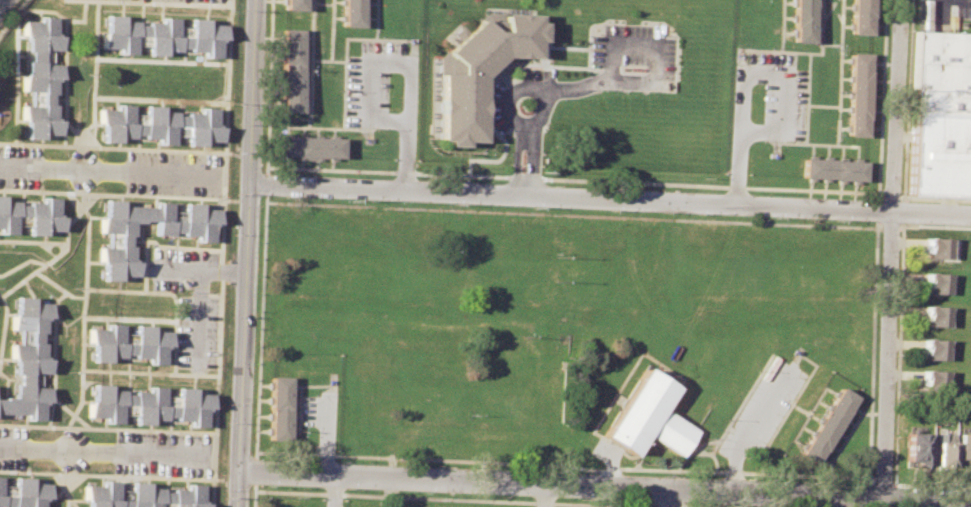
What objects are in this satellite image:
parking lot: (193, 1)
road: (323, 2)
building: (294, 3)
road: (84, 8)
road: (826, 9)
road: (834, 10)
building: (353, 11)
road: (11, 15)
building: (860, 15)
parking lot: (944, 15)
building: (801, 19)
road: (332, 30)
building: (160, 35)
road: (311, 39)
road: (654, 43)
road: (829, 43)
road: (799, 51)
road: (15, 52)
parking lot: (634, 56)
road: (162, 60)
road: (338, 60)
road: (405, 61)
road: (344, 65)
building: (290, 69)
building: (478, 70)
road: (737, 70)
building: (38, 75)
road: (93, 79)
parking lot: (370, 81)
road: (573, 86)
building: (857, 93)
parking lot: (767, 95)
road: (805, 97)
road: (160, 100)
road: (908, 100)
road: (821, 104)
road: (308, 109)
road: (836, 110)
building: (941, 114)
road: (540, 115)
building: (157, 123)
road: (89, 138)
building: (309, 145)
road: (111, 147)
road: (529, 158)
road: (515, 159)
parking lot: (18, 166)
road: (281, 167)
building: (834, 168)
road: (108, 172)
parking lot: (173, 173)
road: (641, 182)
road: (262, 184)
road: (143, 195)
road: (880, 195)
road: (570, 196)
road: (890, 197)
road: (243, 199)
road: (935, 199)
road: (904, 211)
road: (931, 212)
building: (29, 214)
road: (904, 224)
building: (117, 237)
road: (31, 241)
road: (156, 244)
building: (937, 247)
road: (219, 253)
road: (246, 253)
road: (889, 253)
road: (20, 263)
parking lot: (178, 266)
road: (198, 267)
road: (36, 268)
road: (84, 274)
road: (49, 281)
building: (934, 282)
road: (140, 290)
road: (0, 295)
building: (934, 314)
road: (197, 318)
road: (154, 319)
road: (900, 323)
parking lot: (195, 332)
building: (126, 342)
building: (933, 348)
road: (53, 355)
building: (27, 357)
road: (148, 371)
building: (932, 378)
building: (145, 405)
building: (278, 406)
parking lot: (316, 408)
road: (49, 412)
building: (647, 416)
building: (826, 423)
road: (751, 426)
road: (106, 427)
road: (324, 434)
building: (914, 446)
building: (963, 446)
parking lot: (12, 447)
building: (943, 449)
road: (103, 453)
parking lot: (161, 453)
road: (255, 470)
road: (105, 474)
road: (867, 477)
road: (870, 478)
road: (881, 480)
road: (932, 485)
road: (604, 487)
road: (62, 489)
road: (332, 490)
building: (23, 492)
building: (141, 495)
road: (543, 495)
road: (452, 497)
road: (252, 498)
road: (665, 498)
road: (70, 501)
road: (601, 505)
road: (665, 505)
road: (679, 506)
road: (706, 506)

